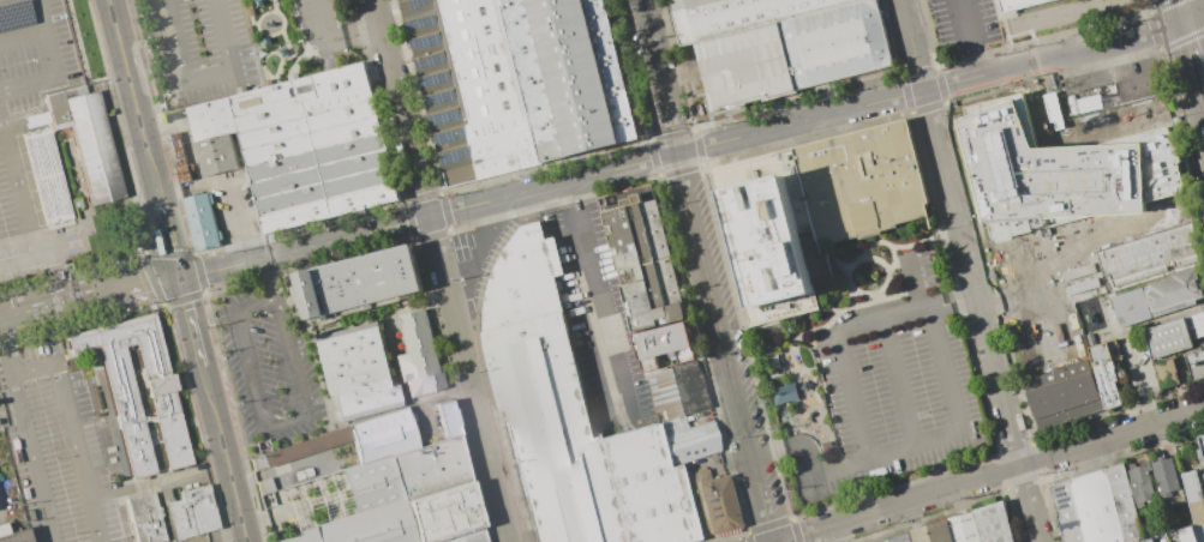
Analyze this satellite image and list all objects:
building: (510, 2)
rooftop solar panel: (417, 4)
building: (1018, 4)
road: (1197, 6)
road: (1202, 11)
rooftop solar panel: (12, 14)
building: (736, 14)
road: (1202, 22)
rooftop solar panel: (424, 24)
parking lot: (964, 24)
parking lot: (324, 30)
road: (23, 35)
road: (969, 37)
road: (334, 38)
rooftop solar panel: (430, 42)
building: (837, 43)
road: (911, 44)
parking lot: (200, 48)
road: (1061, 54)
rooftop solar panel: (433, 61)
road: (58, 67)
building: (747, 67)
road: (1184, 73)
building: (573, 76)
road: (658, 76)
parking lot: (1101, 77)
road: (203, 79)
rooftop solar panel: (438, 79)
building: (1139, 86)
building: (474, 88)
road: (133, 98)
rooftop solar panel: (444, 98)
road: (400, 107)
rooftop solar panel: (444, 118)
building: (212, 120)
road: (799, 120)
rooftop solar panel: (465, 133)
rooftop solar panel: (447, 137)
building: (95, 147)
building: (313, 147)
building: (217, 155)
building: (180, 157)
rooftop solar panel: (453, 157)
building: (46, 167)
building: (1059, 170)
road: (571, 194)
road: (28, 200)
building: (815, 211)
road: (427, 215)
building: (202, 222)
road: (236, 227)
road: (168, 236)
building: (643, 249)
building: (1150, 254)
traffic signals: (179, 276)
road: (971, 277)
road: (271, 278)
building: (372, 279)
road: (133, 284)
road: (916, 284)
building: (313, 294)
road: (946, 295)
building: (1161, 297)
road: (44, 306)
building: (640, 307)
road: (951, 309)
road: (600, 317)
road: (191, 320)
road: (879, 320)
road: (1138, 327)
building: (1175, 335)
building: (1203, 342)
building: (1203, 343)
building: (665, 344)
road: (724, 347)
building: (1022, 351)
building: (420, 354)
building: (1048, 357)
road: (4, 359)
building: (1034, 361)
building: (1197, 365)
building: (358, 371)
building: (1167, 373)
building: (1106, 375)
building: (127, 377)
road: (468, 379)
road: (899, 383)
building: (82, 387)
building: (676, 391)
building: (784, 393)
road: (852, 397)
building: (1065, 401)
building: (447, 418)
building: (172, 421)
road: (70, 426)
building: (671, 426)
road: (266, 432)
building: (551, 432)
building: (383, 435)
road: (1112, 438)
building: (1203, 439)
building: (689, 442)
road: (906, 448)
road: (226, 453)
road: (29, 457)
building: (430, 468)
building: (1167, 481)
building: (372, 483)
rooftop solar panel: (1061, 487)
building: (1140, 487)
building: (645, 488)
rooftop solar panel: (1059, 494)
building: (696, 498)
rooftop solar panel: (1067, 499)
building: (1196, 499)
building: (718, 504)
road: (899, 504)
road: (1030, 504)
rooftop solar panel: (1064, 505)
building: (1097, 507)
building: (192, 513)
building: (444, 513)
building: (144, 518)
rooftop solar panel: (1070, 523)
building: (371, 525)
building: (962, 528)
road: (983, 529)
parking lot: (960, 530)
building: (16, 536)
building: (301, 536)
building: (466, 536)
building: (1175, 536)
road: (96, 537)
road: (938, 538)

